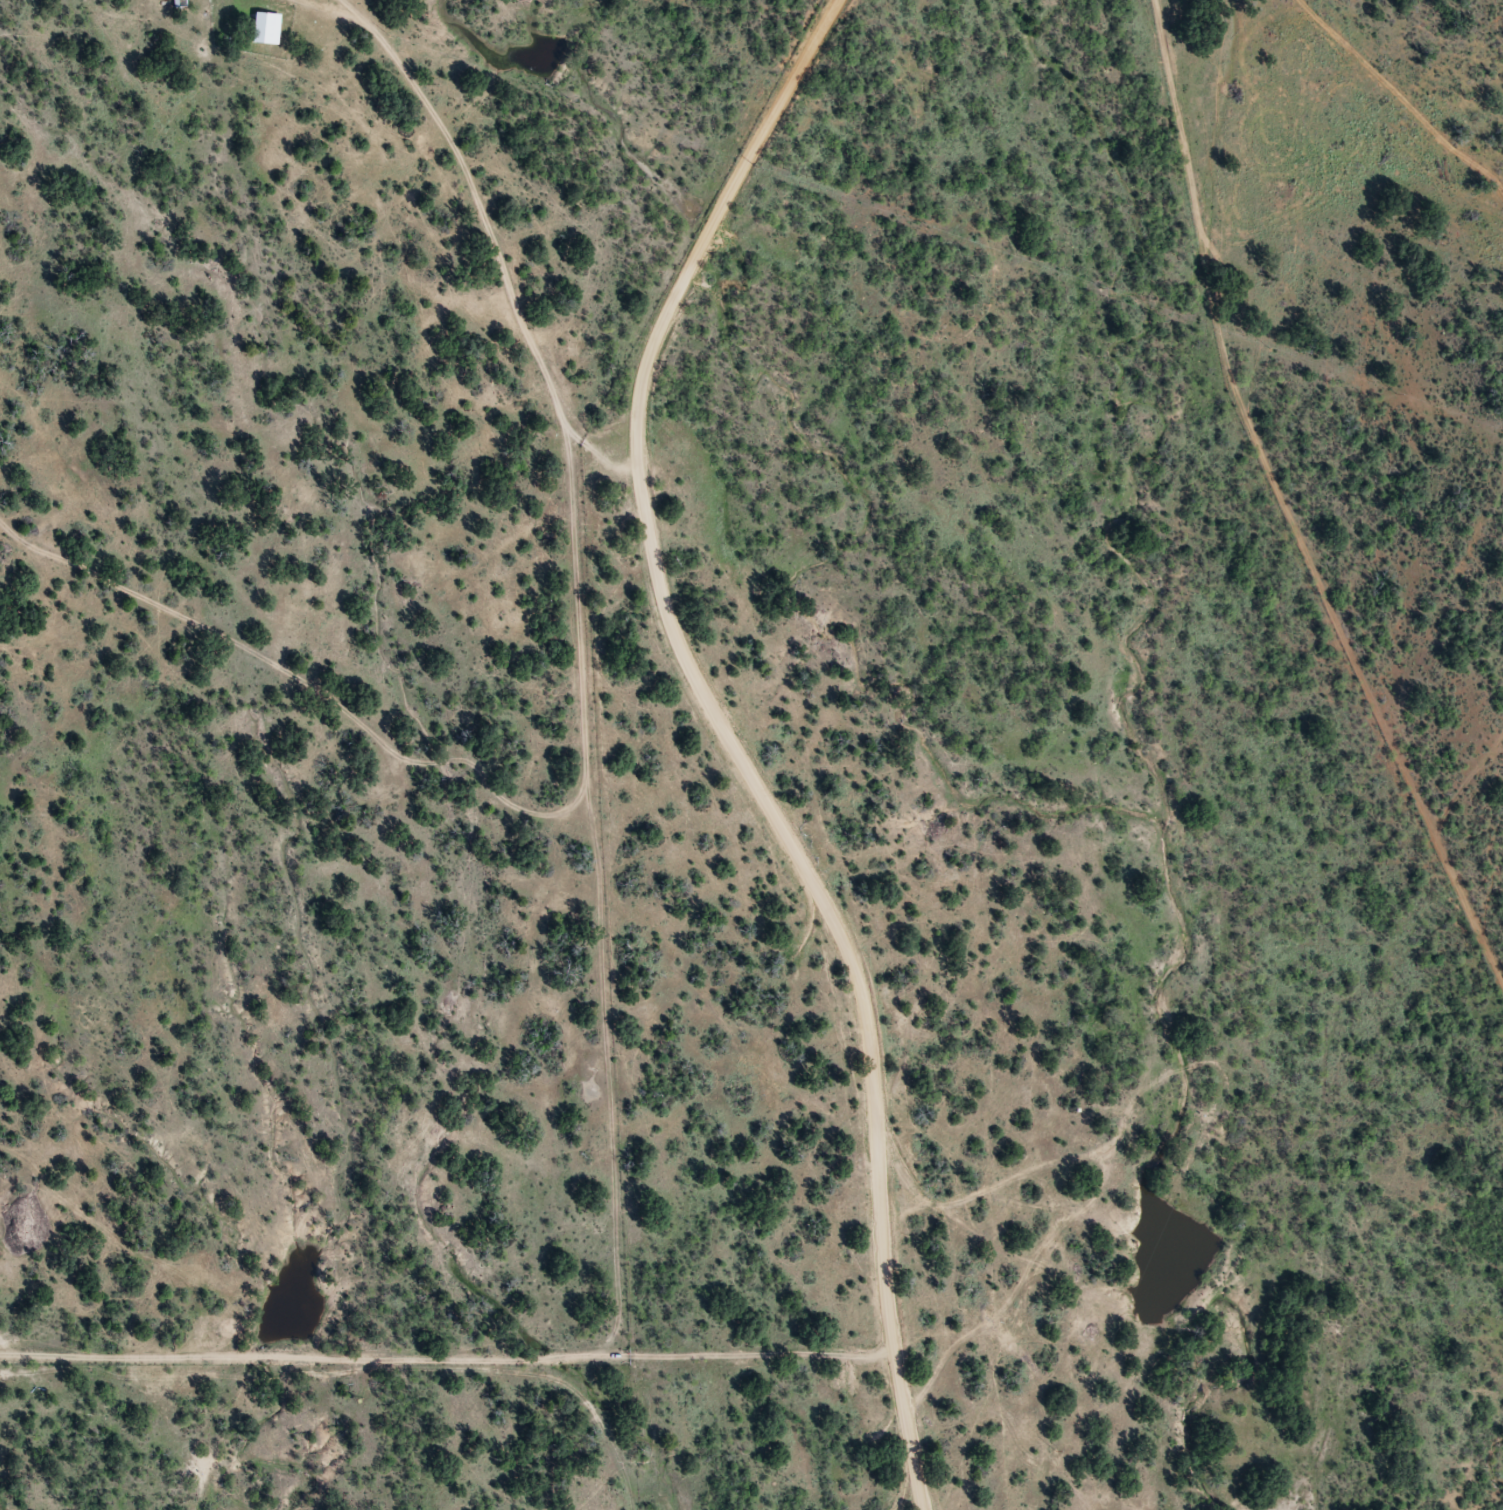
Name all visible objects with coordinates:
building: (179, 4)
building: (259, 33)
road: (1402, 97)
road: (493, 236)
road: (729, 739)
road: (450, 1361)

